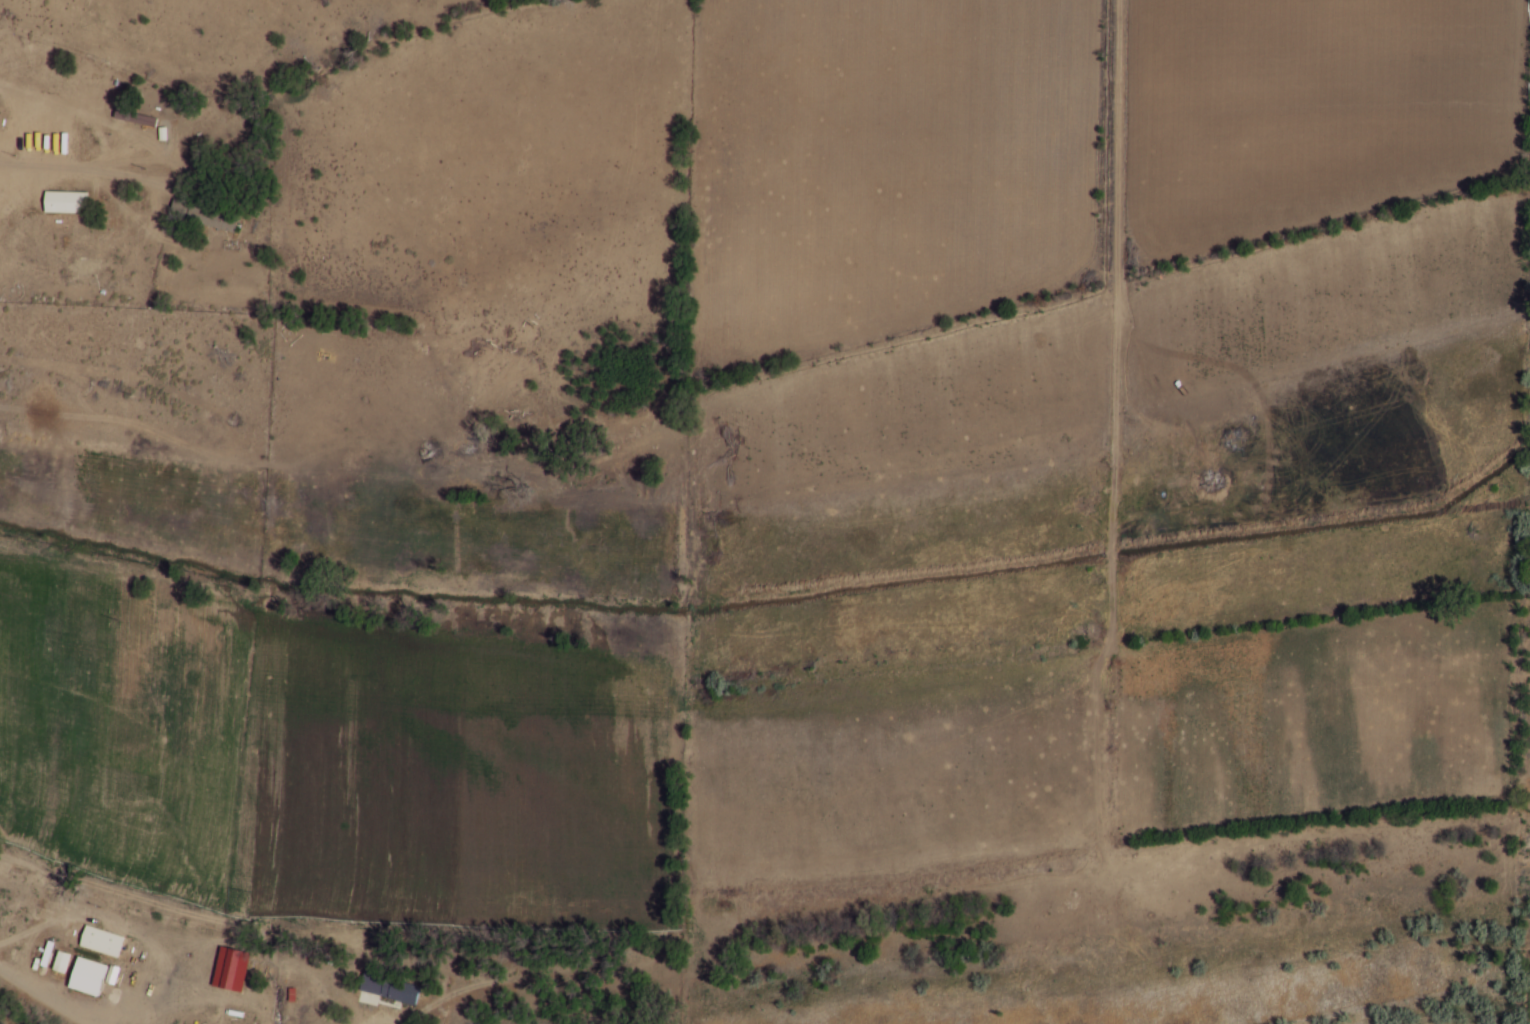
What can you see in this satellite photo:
building: (68, 203)
road: (1116, 454)
building: (61, 961)
building: (87, 975)
building: (397, 990)
road: (23, 1011)

